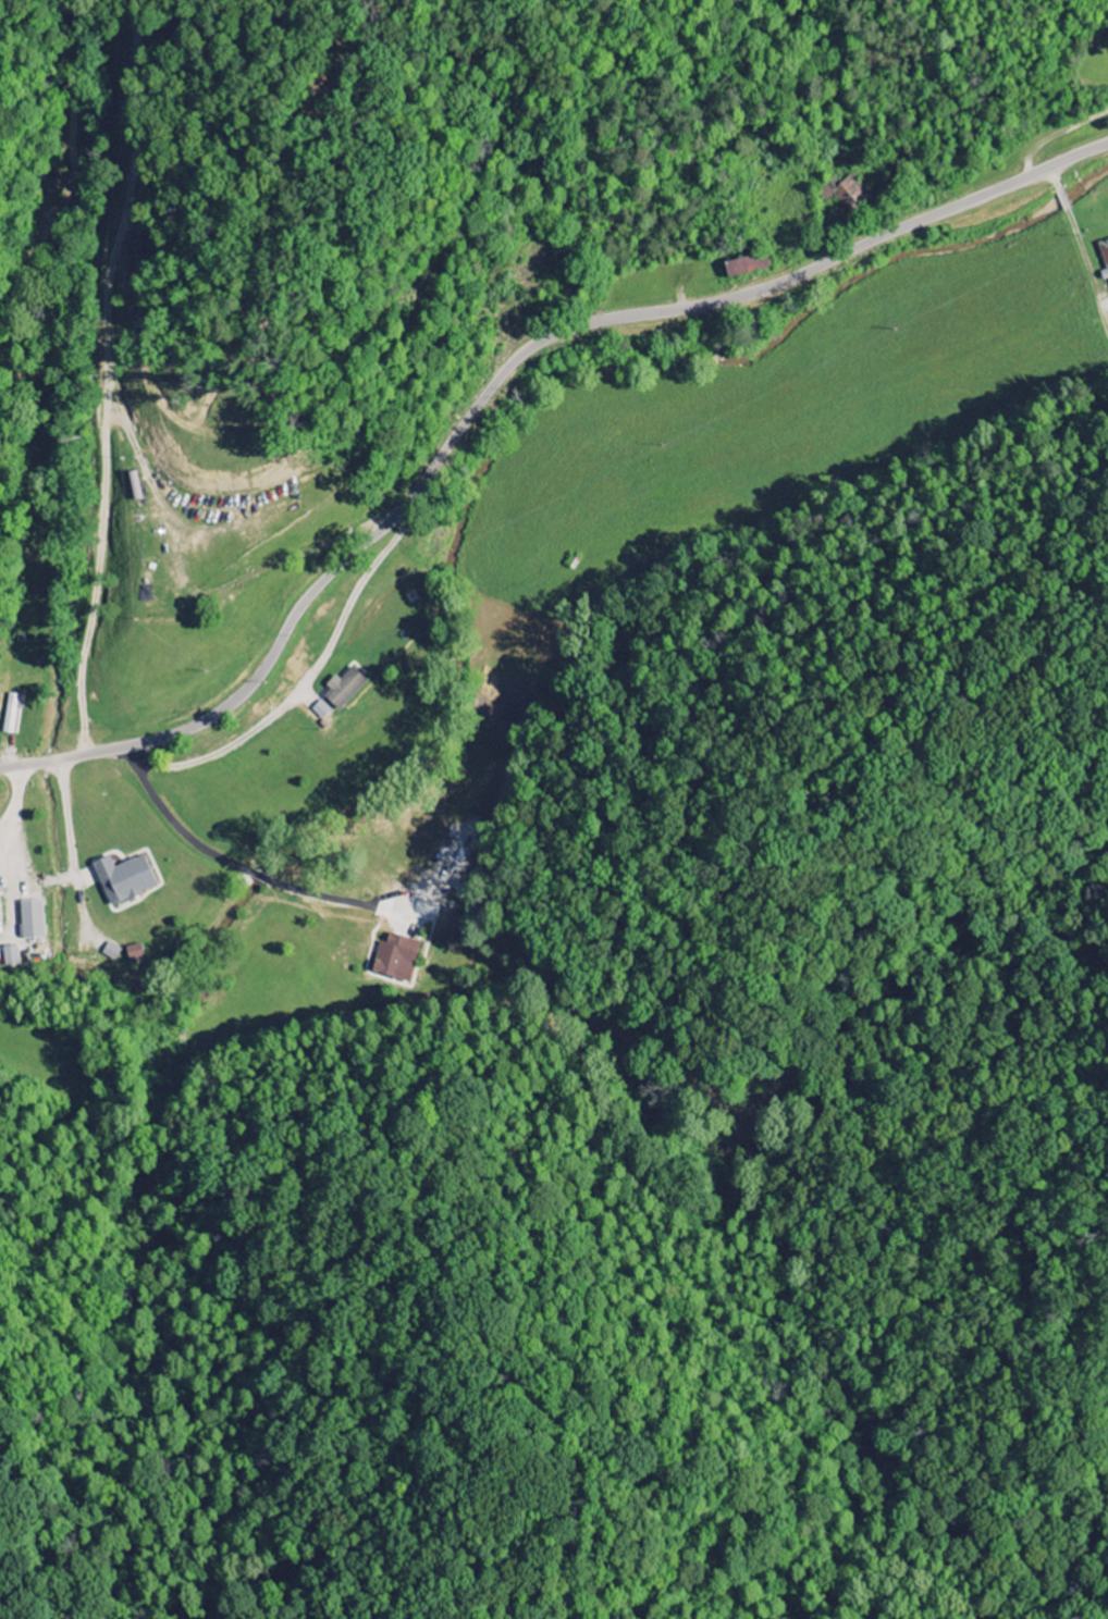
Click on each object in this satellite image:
park: (1095, 61)
road: (1055, 133)
building: (851, 191)
building: (1104, 254)
road: (496, 382)
building: (342, 687)
building: (320, 709)
building: (10, 712)
building: (122, 878)
building: (30, 918)
building: (110, 951)
building: (133, 954)
building: (394, 957)

